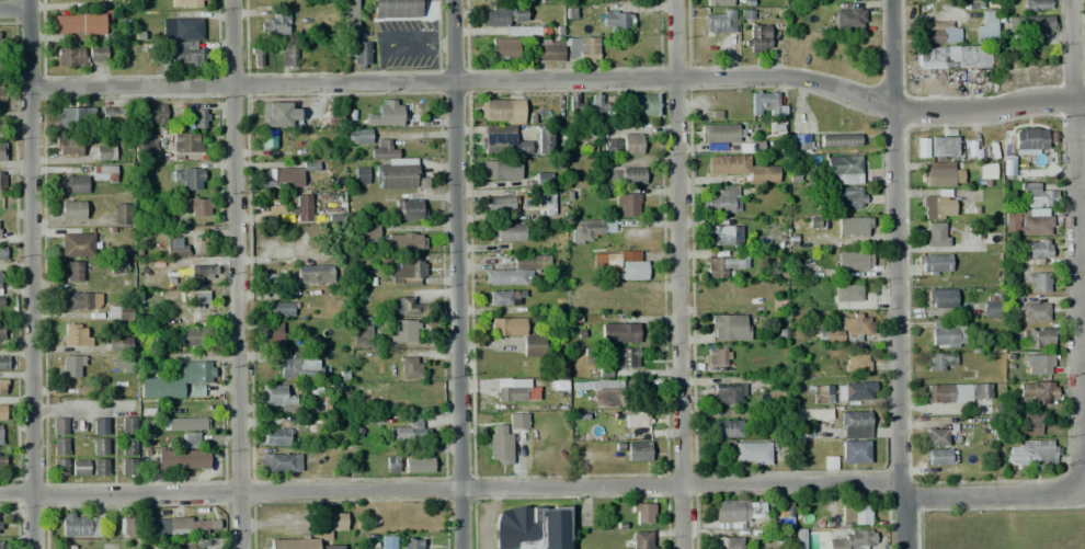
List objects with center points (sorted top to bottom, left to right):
building: (488, 0)
building: (926, 0)
building: (717, 2)
building: (187, 3)
road: (13, 5)
building: (1035, 5)
building: (396, 9)
building: (350, 14)
building: (503, 16)
building: (849, 18)
building: (615, 20)
building: (77, 23)
building: (719, 23)
building: (1030, 23)
building: (275, 25)
building: (186, 27)
building: (522, 31)
building: (938, 32)
building: (985, 32)
building: (757, 38)
building: (0, 41)
building: (504, 49)
building: (586, 49)
building: (548, 52)
building: (358, 53)
building: (96, 54)
building: (187, 54)
building: (69, 56)
building: (288, 56)
building: (256, 57)
building: (955, 57)
road: (465, 81)
building: (1, 96)
building: (575, 103)
building: (763, 103)
building: (598, 104)
building: (644, 105)
road: (991, 111)
building: (501, 112)
building: (387, 113)
building: (151, 114)
building: (279, 114)
building: (334, 116)
building: (75, 117)
building: (114, 117)
building: (196, 118)
building: (1, 129)
building: (720, 133)
building: (357, 136)
building: (1028, 138)
building: (267, 139)
building: (541, 139)
building: (838, 139)
building: (500, 141)
building: (185, 142)
building: (803, 142)
building: (630, 144)
building: (601, 146)
building: (944, 146)
building: (67, 147)
building: (921, 148)
building: (142, 149)
building: (382, 151)
building: (2, 153)
building: (105, 153)
building: (843, 165)
building: (742, 168)
building: (986, 171)
building: (103, 173)
building: (500, 173)
building: (940, 173)
building: (362, 174)
building: (631, 175)
building: (189, 176)
building: (398, 176)
building: (276, 178)
building: (542, 180)
building: (1, 181)
building: (71, 184)
building: (1033, 195)
building: (848, 197)
building: (721, 199)
building: (501, 203)
building: (628, 205)
building: (197, 206)
building: (937, 207)
building: (301, 208)
building: (71, 209)
building: (410, 209)
building: (121, 214)
building: (1030, 221)
building: (853, 226)
building: (589, 228)
building: (368, 232)
building: (509, 232)
building: (941, 232)
building: (717, 235)
building: (403, 241)
building: (77, 244)
road: (1076, 245)
building: (176, 247)
building: (1038, 252)
building: (2, 253)
building: (850, 260)
building: (619, 264)
building: (933, 264)
building: (722, 265)
building: (116, 266)
building: (201, 270)
building: (517, 270)
building: (72, 271)
building: (406, 273)
road: (33, 274)
road: (235, 274)
building: (313, 274)
road: (458, 274)
road: (677, 274)
road: (899, 274)
building: (275, 281)
building: (1037, 282)
building: (0, 290)
building: (846, 293)
building: (503, 298)
building: (940, 298)
building: (81, 300)
building: (198, 300)
building: (1, 302)
building: (404, 306)
building: (991, 306)
building: (278, 308)
building: (1032, 311)
building: (117, 312)
building: (505, 327)
building: (729, 327)
building: (847, 329)
building: (1, 330)
building: (401, 330)
building: (619, 332)
building: (362, 334)
building: (72, 335)
building: (946, 335)
building: (191, 338)
building: (273, 338)
building: (1037, 338)
building: (124, 344)
building: (532, 345)
building: (716, 356)
building: (615, 358)
building: (938, 361)
building: (3, 362)
building: (857, 363)
building: (1037, 364)
building: (122, 365)
building: (72, 366)
building: (297, 366)
building: (410, 368)
building: (175, 380)
building: (1, 387)
building: (855, 390)
building: (1038, 391)
building: (607, 392)
building: (729, 393)
building: (956, 393)
building: (822, 394)
building: (514, 396)
building: (277, 398)
building: (2, 412)
building: (811, 414)
building: (637, 419)
building: (517, 421)
building: (1028, 422)
building: (184, 424)
building: (127, 425)
building: (854, 425)
building: (58, 426)
building: (100, 426)
building: (727, 428)
building: (0, 434)
building: (408, 435)
building: (274, 436)
building: (938, 436)
building: (191, 439)
building: (499, 444)
building: (59, 446)
building: (99, 446)
building: (128, 446)
building: (637, 451)
building: (854, 451)
building: (751, 453)
building: (1031, 454)
building: (939, 457)
building: (182, 460)
building: (1, 462)
building: (279, 462)
building: (390, 465)
building: (418, 465)
building: (99, 466)
building: (59, 467)
building: (128, 467)
building: (79, 468)
road: (538, 483)
building: (734, 512)
building: (784, 512)
building: (641, 513)
building: (854, 513)
building: (79, 524)
building: (126, 525)
building: (327, 525)
building: (187, 526)
building: (532, 527)
building: (798, 538)
building: (640, 540)
building: (854, 540)
building: (411, 542)
building: (726, 542)
building: (298, 544)
building: (3, 545)
building: (186, 546)
building: (78, 547)

